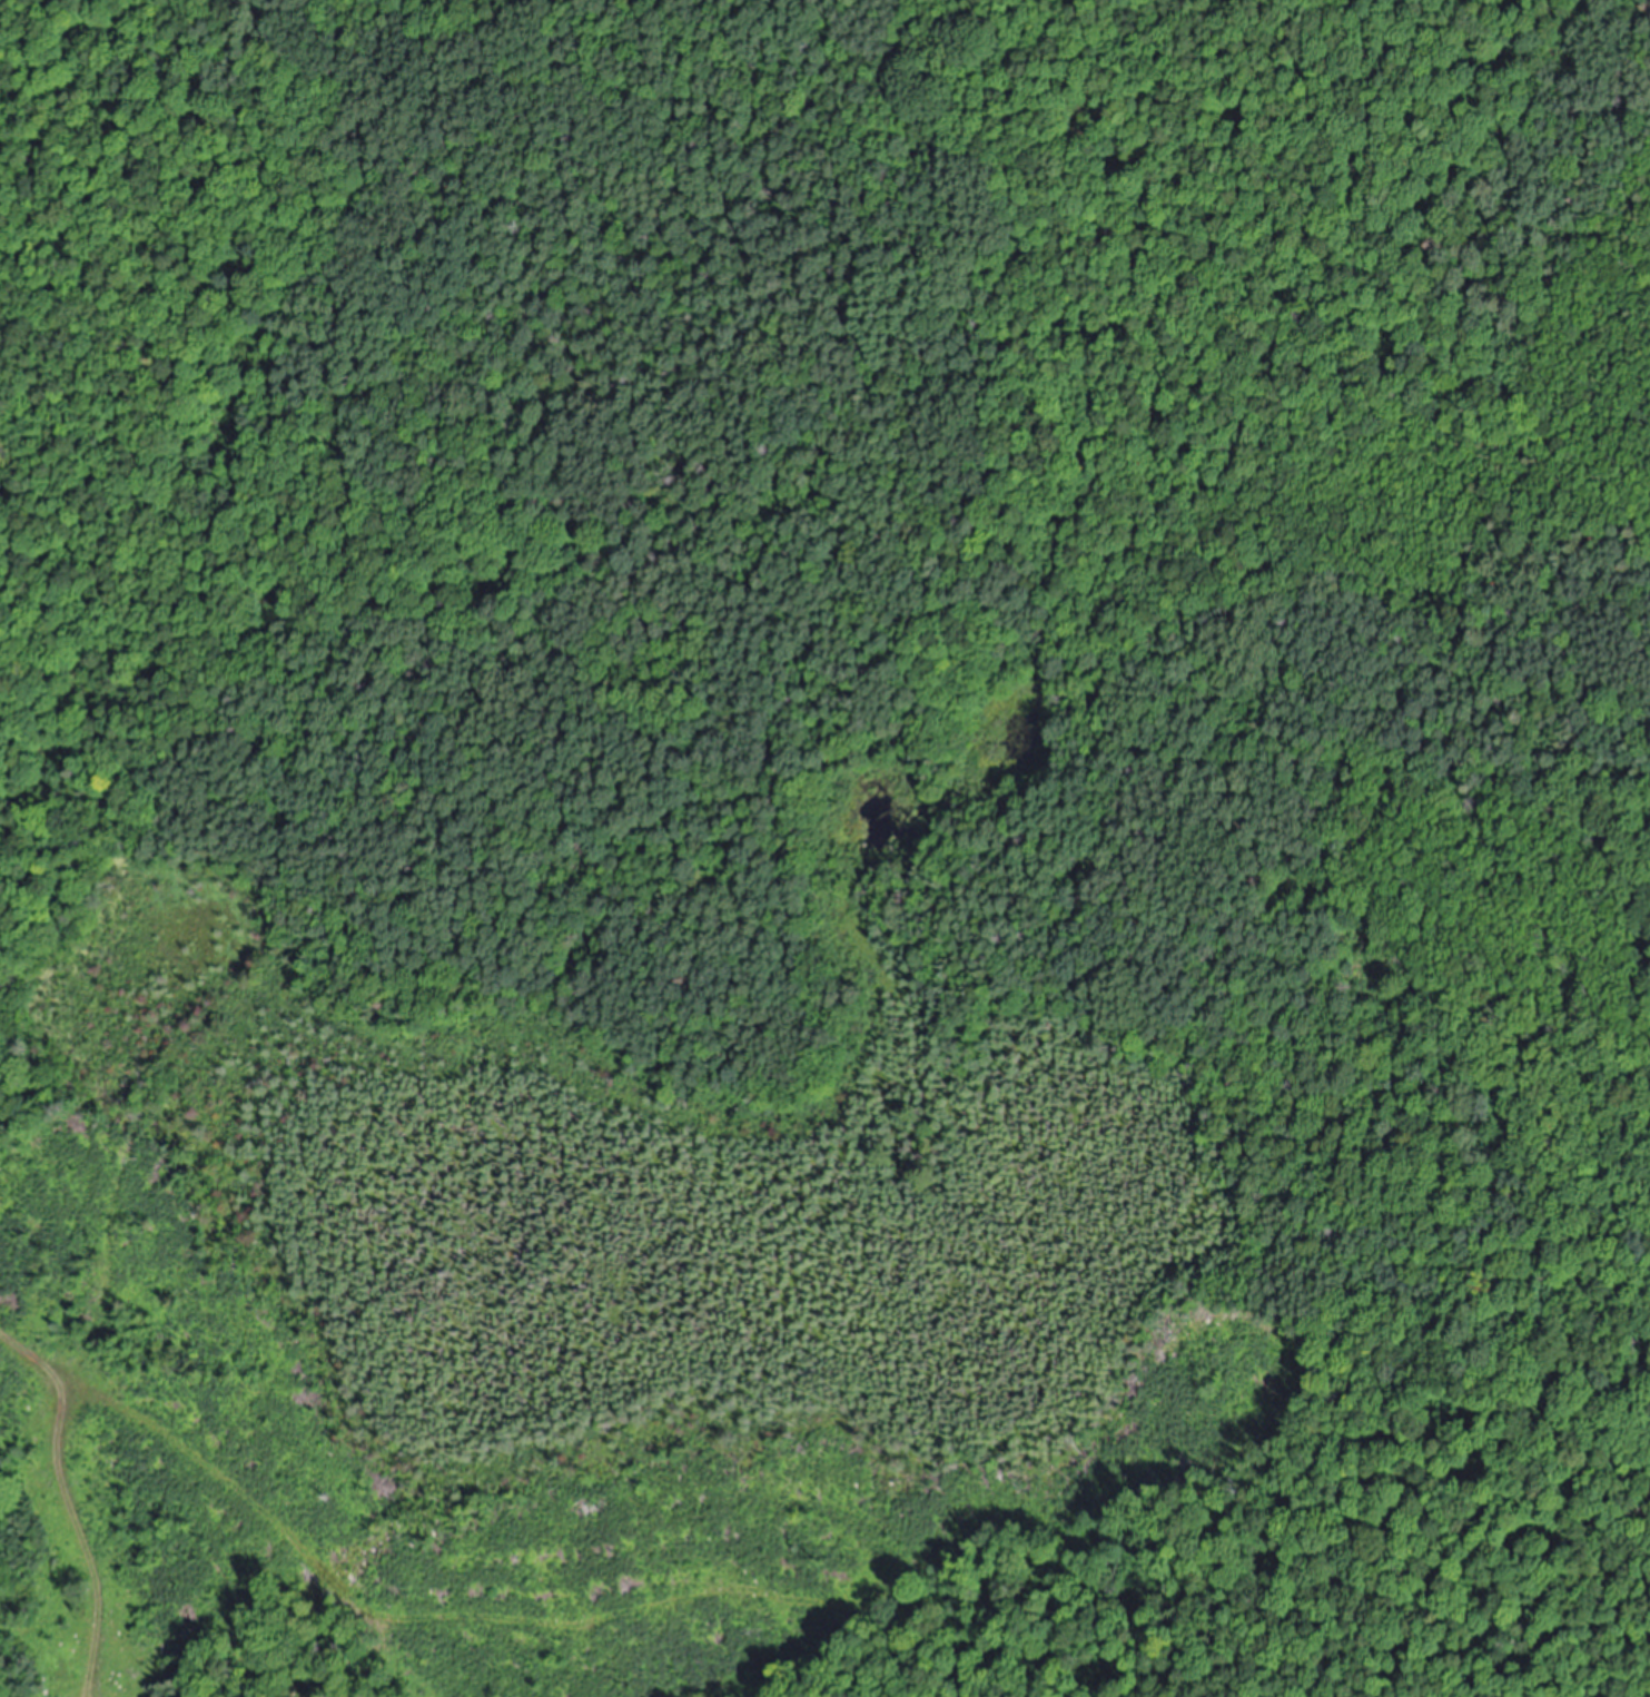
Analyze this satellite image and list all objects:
road: (70, 1506)

